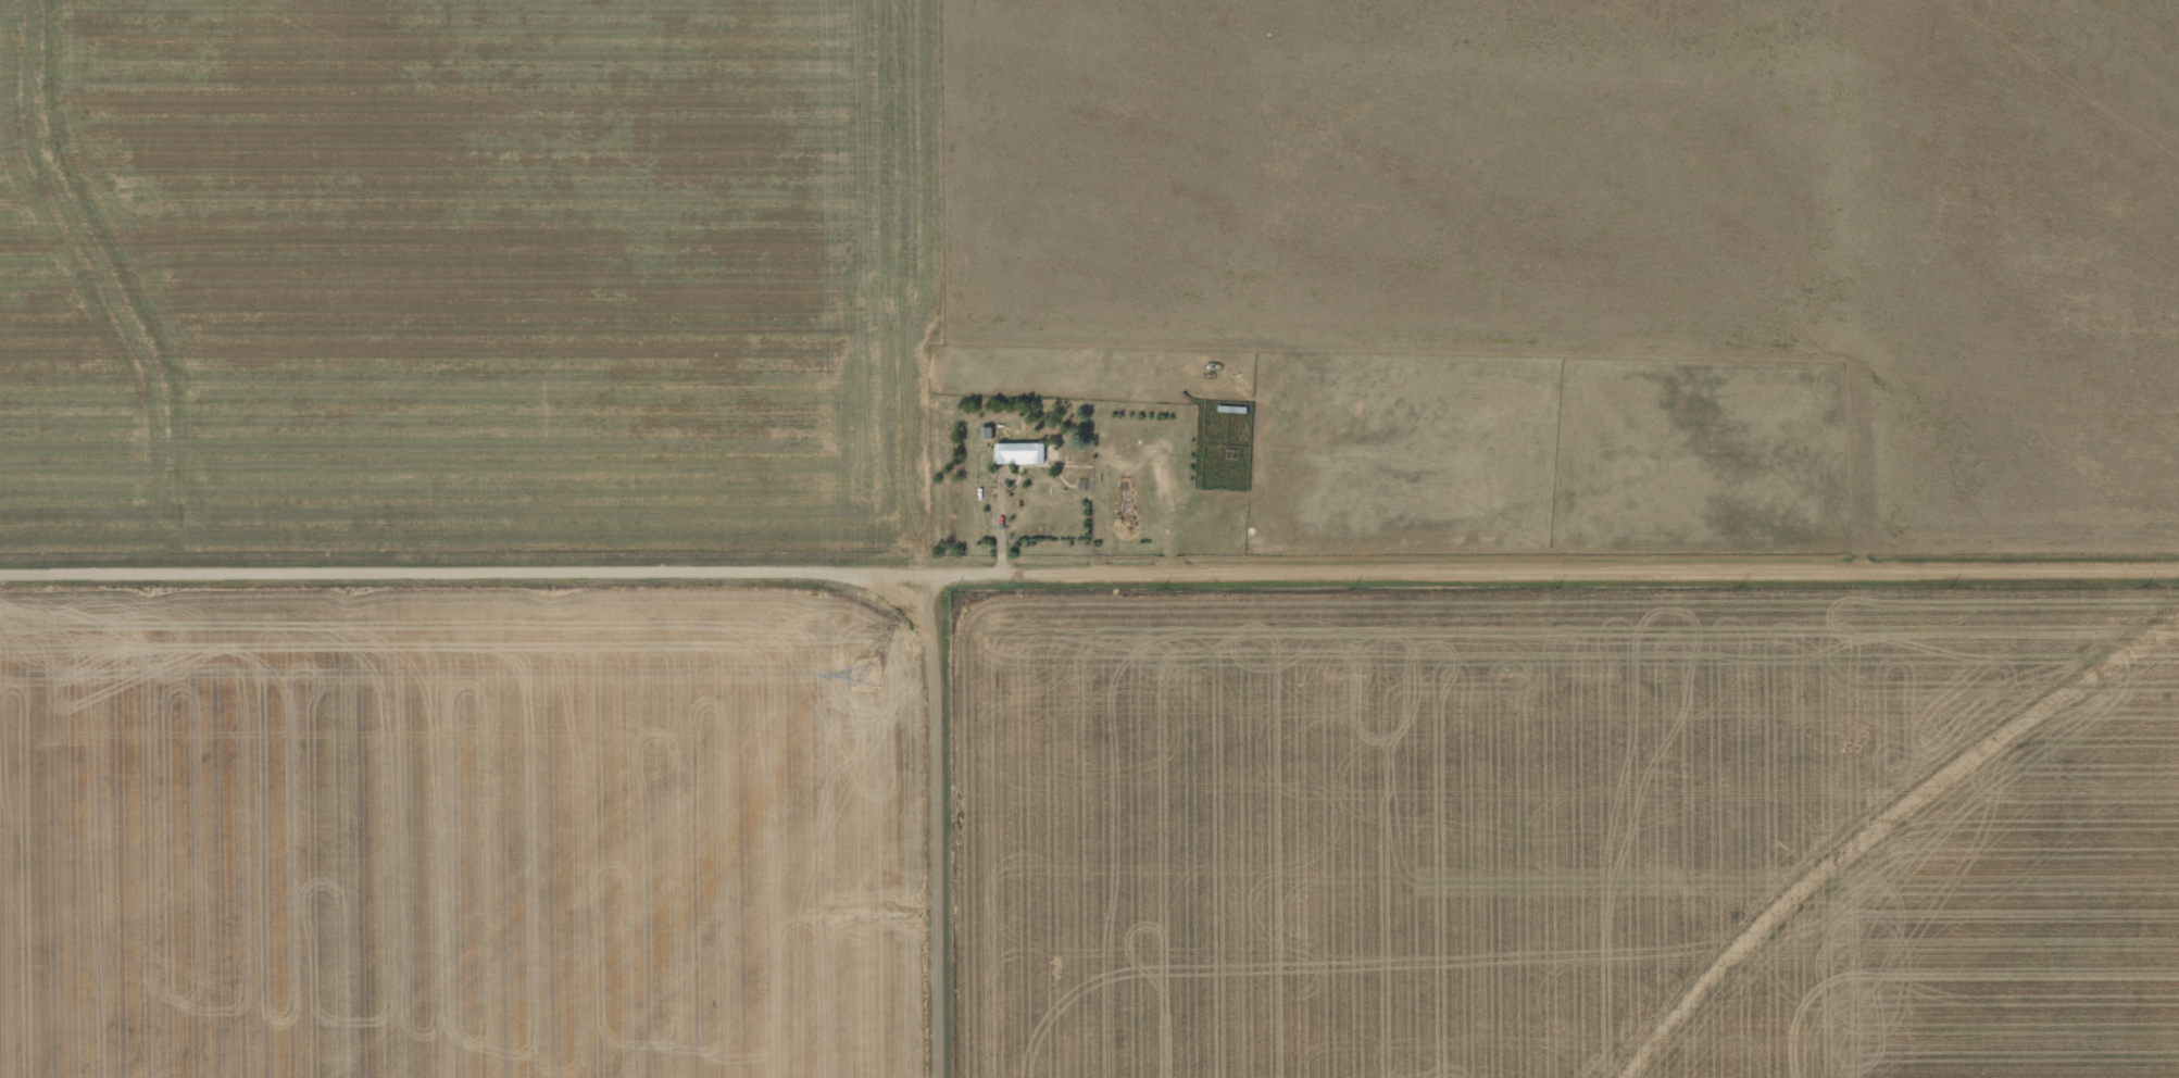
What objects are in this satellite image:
building: (981, 431)
building: (1015, 452)
road: (1089, 571)
power tower: (862, 675)
road: (941, 824)

